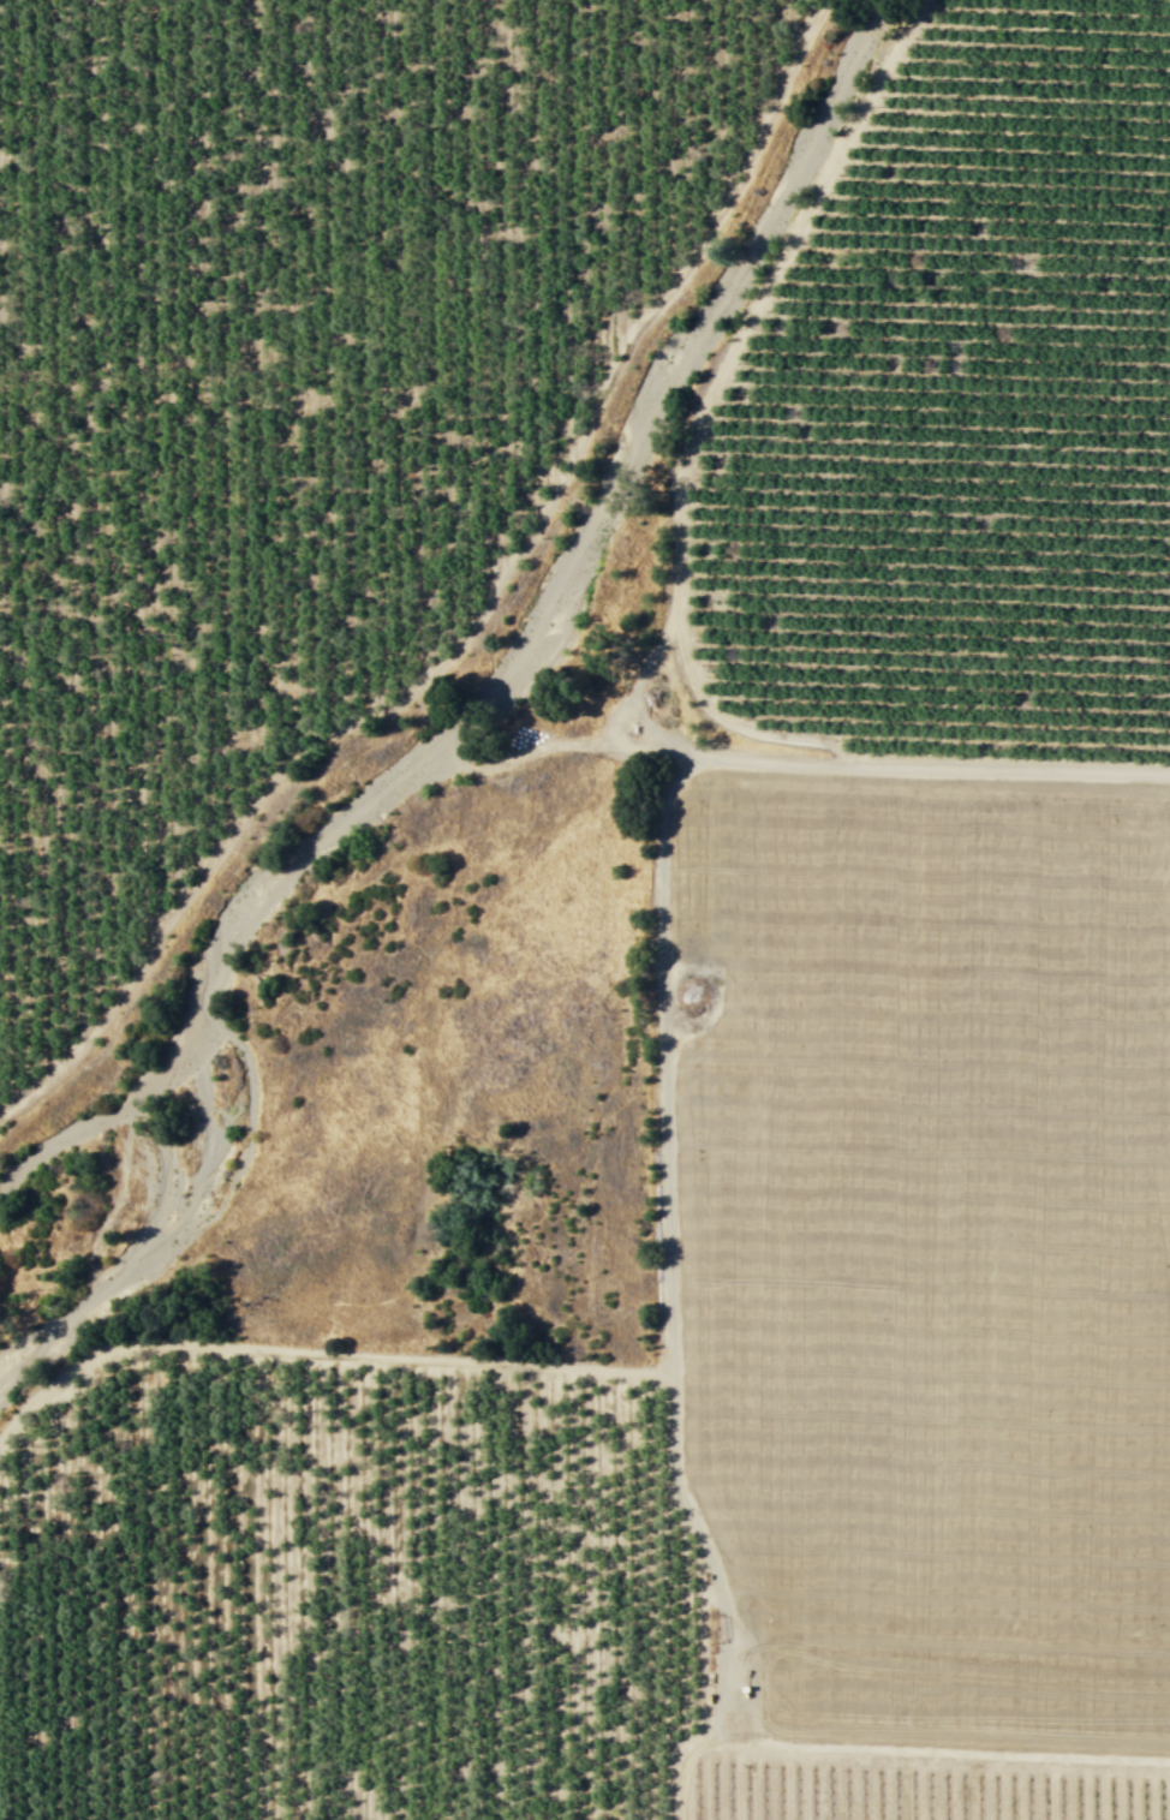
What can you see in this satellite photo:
road: (705, 408)
road: (480, 610)
road: (616, 716)
road: (914, 766)
road: (665, 1293)

